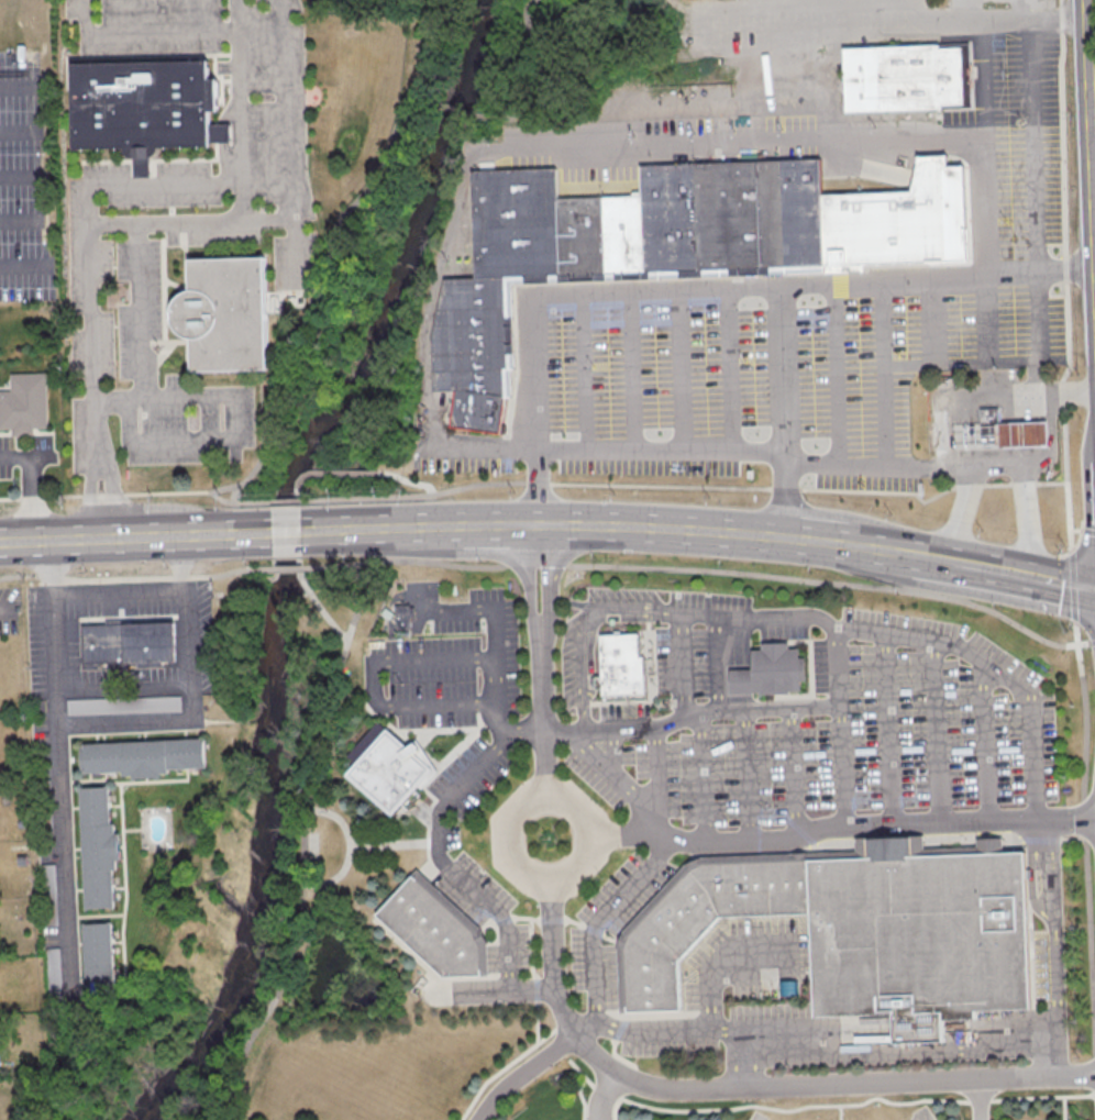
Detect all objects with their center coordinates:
parking lot: (1010, 4)
road: (1030, 11)
road: (710, 12)
road: (234, 14)
road: (80, 15)
road: (1066, 20)
road: (971, 21)
parking lot: (799, 29)
road: (1094, 33)
road: (991, 57)
building: (912, 79)
road: (23, 85)
building: (146, 110)
road: (24, 130)
road: (284, 131)
road: (1038, 146)
road: (531, 151)
parking lot: (1019, 151)
road: (24, 177)
road: (139, 184)
road: (25, 214)
building: (795, 214)
building: (733, 217)
building: (676, 218)
building: (896, 222)
road: (187, 223)
building: (519, 223)
building: (628, 234)
building: (585, 235)
road: (26, 247)
road: (991, 251)
road: (26, 278)
road: (701, 287)
building: (477, 295)
building: (228, 317)
road: (939, 320)
building: (474, 322)
road: (143, 335)
building: (473, 353)
road: (1005, 361)
road: (594, 369)
road: (638, 369)
road: (689, 369)
road: (737, 369)
parking lot: (757, 369)
road: (889, 372)
road: (842, 373)
road: (1031, 376)
road: (1069, 380)
building: (475, 381)
road: (1017, 392)
road: (1036, 407)
road: (790, 409)
building: (24, 410)
building: (483, 411)
road: (1038, 433)
building: (940, 434)
building: (998, 435)
road: (971, 436)
road: (219, 437)
road: (667, 451)
road: (881, 463)
road: (1002, 464)
road: (37, 480)
road: (902, 490)
road: (143, 492)
road: (233, 500)
road: (960, 510)
road: (1025, 517)
road: (500, 524)
road: (661, 524)
road: (1082, 528)
road: (400, 529)
road: (1092, 529)
road: (319, 532)
road: (286, 533)
road: (815, 536)
road: (134, 539)
road: (876, 544)
road: (927, 552)
road: (286, 568)
road: (1021, 568)
road: (710, 569)
road: (134, 577)
road: (528, 578)
road: (547, 578)
road: (1080, 584)
road: (141, 590)
road: (4, 603)
building: (406, 617)
road: (765, 618)
road: (502, 620)
road: (593, 626)
road: (1090, 642)
building: (131, 643)
road: (723, 662)
road: (686, 664)
building: (627, 667)
building: (774, 670)
road: (999, 670)
road: (379, 678)
road: (541, 711)
road: (184, 716)
road: (694, 716)
road: (848, 724)
road: (894, 728)
road: (941, 730)
road: (991, 741)
building: (145, 756)
road: (58, 763)
building: (396, 770)
road: (798, 770)
road: (754, 773)
road: (711, 776)
road: (666, 778)
road: (628, 779)
road: (523, 800)
road: (844, 821)
building: (101, 846)
road: (447, 846)
road: (641, 879)
road: (1051, 880)
building: (714, 917)
building: (436, 931)
building: (922, 935)
road: (727, 958)
building: (101, 961)
road: (512, 991)
road: (1054, 1011)
road: (613, 1024)
road: (593, 1025)
road: (880, 1052)
road: (752, 1073)
road: (528, 1075)
road: (748, 1089)
road: (611, 1096)
road: (985, 1099)
park: (801, 1107)
road: (928, 1118)

